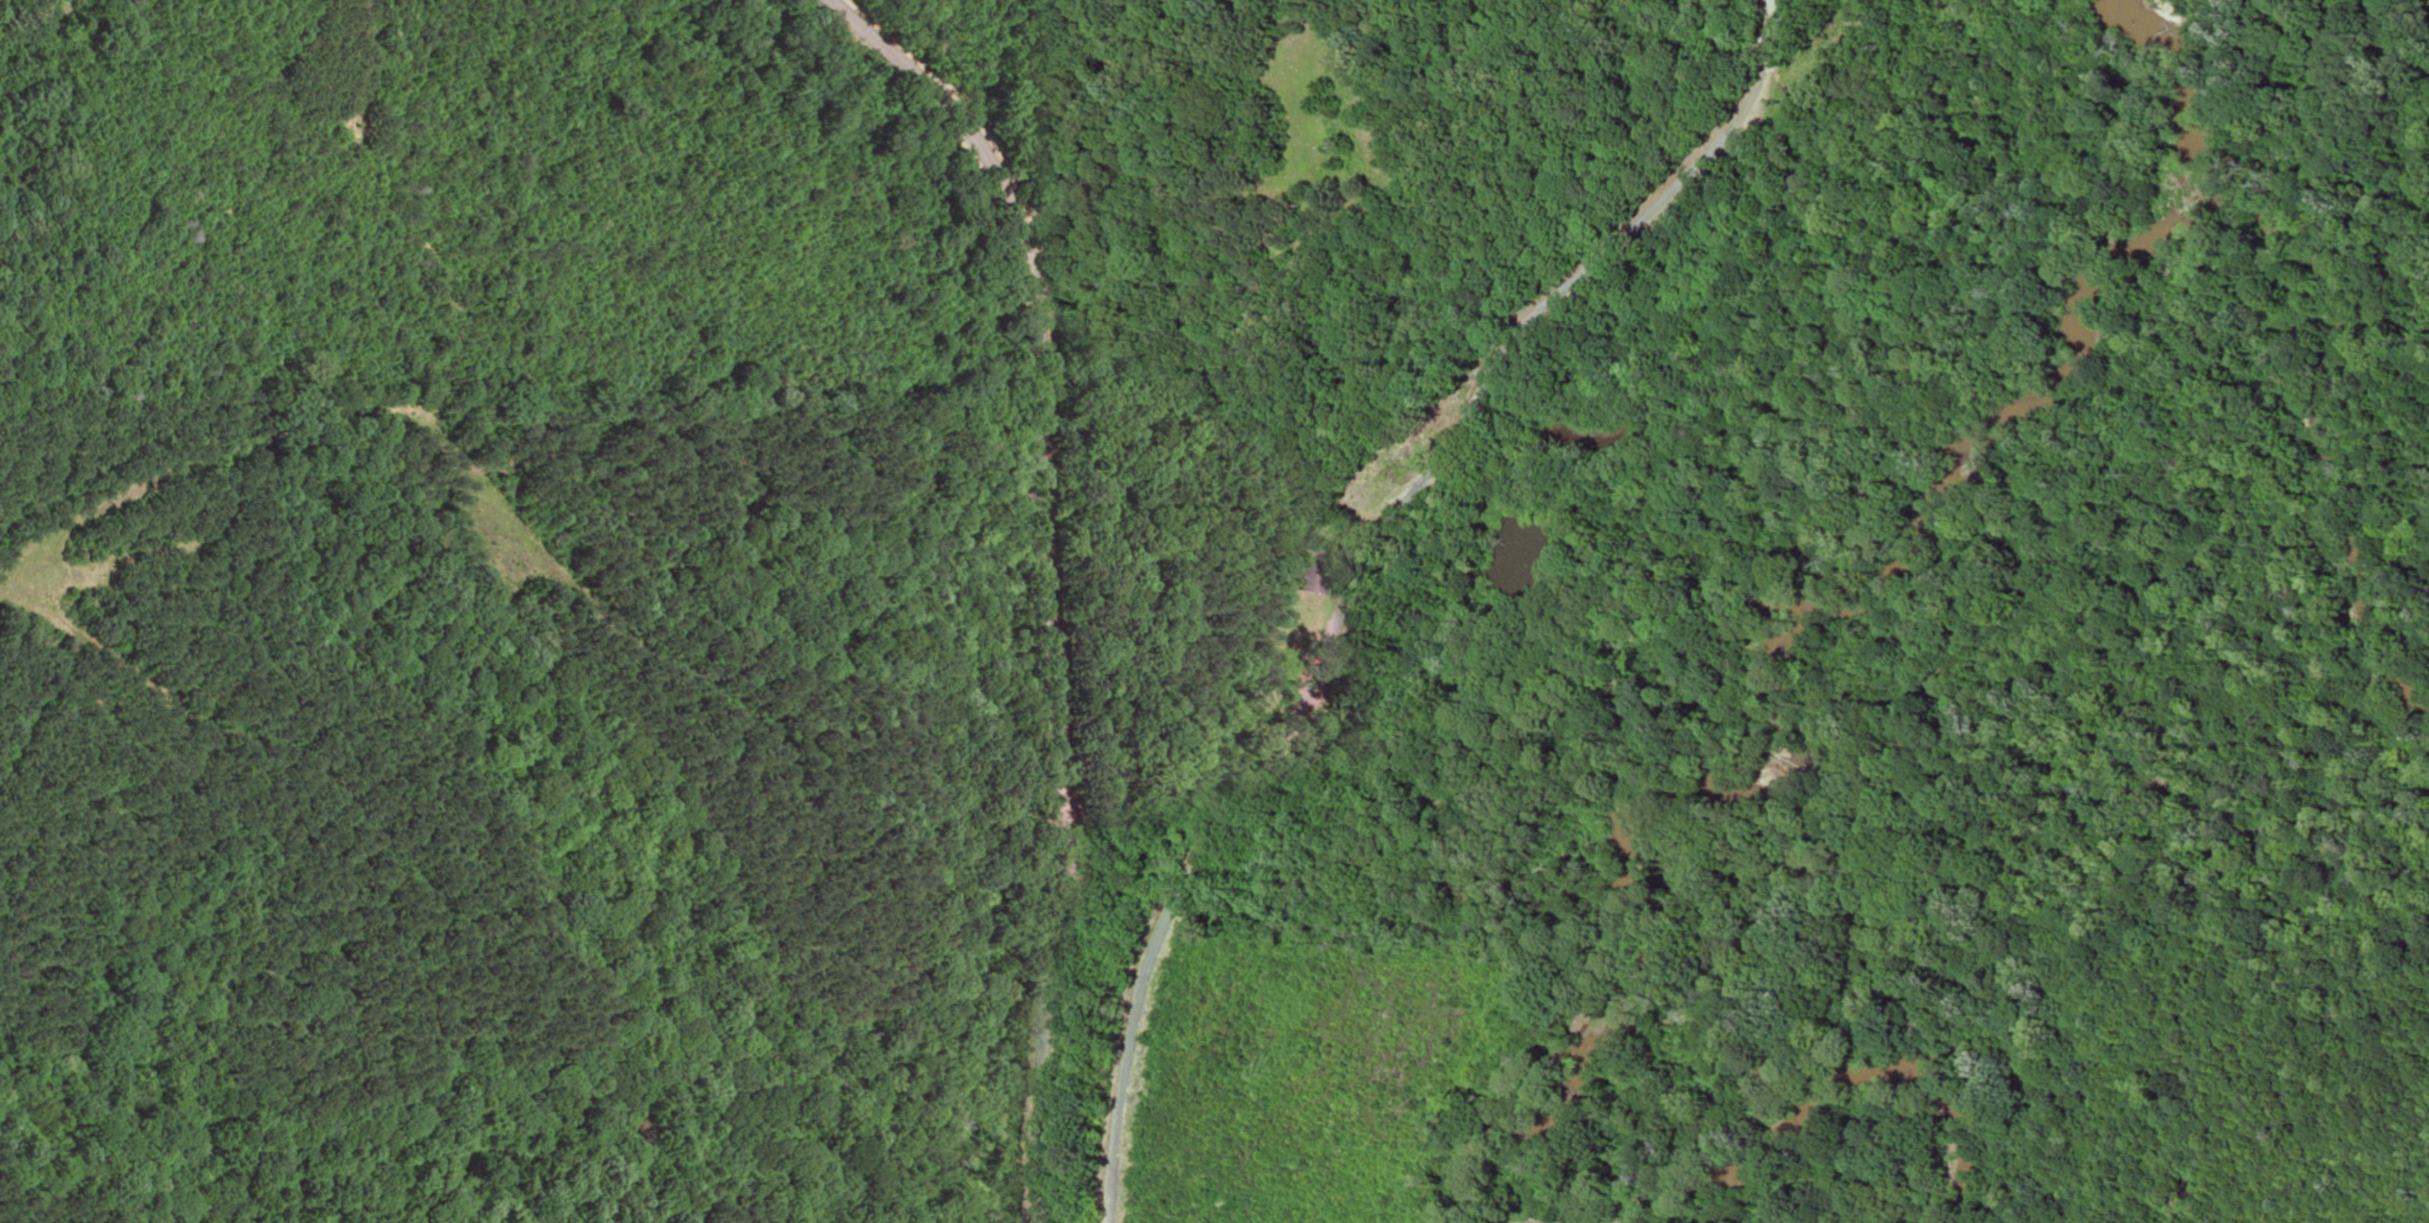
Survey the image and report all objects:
road: (1365, 556)
building: (1311, 562)
road: (1028, 573)

